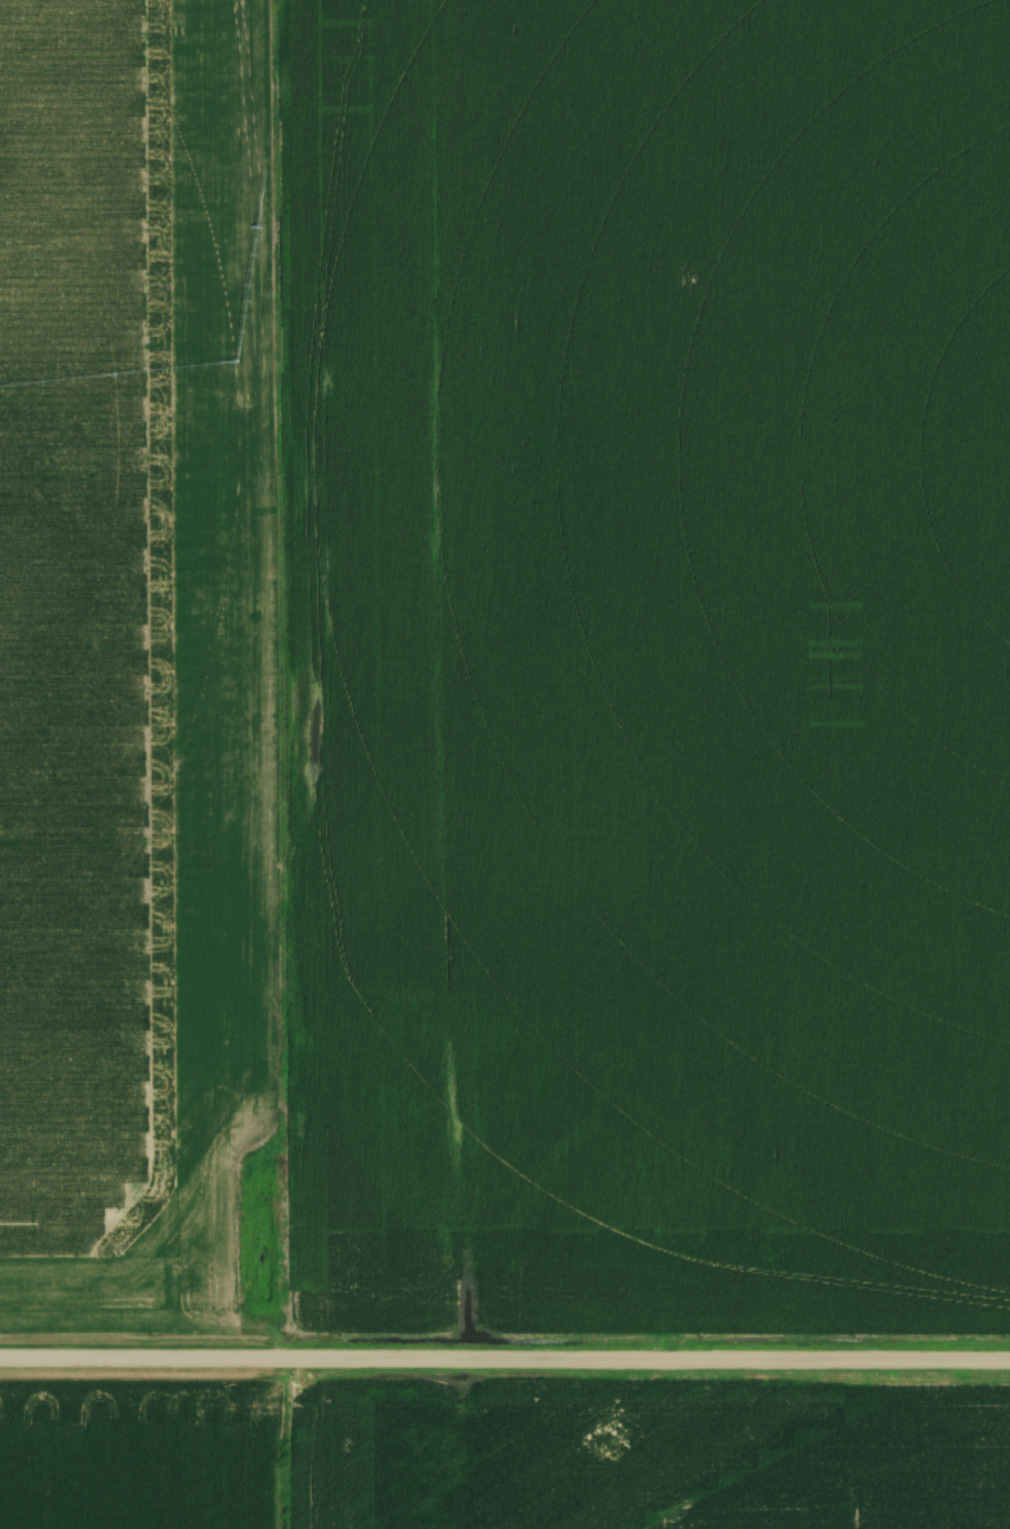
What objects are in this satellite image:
road: (505, 1361)

